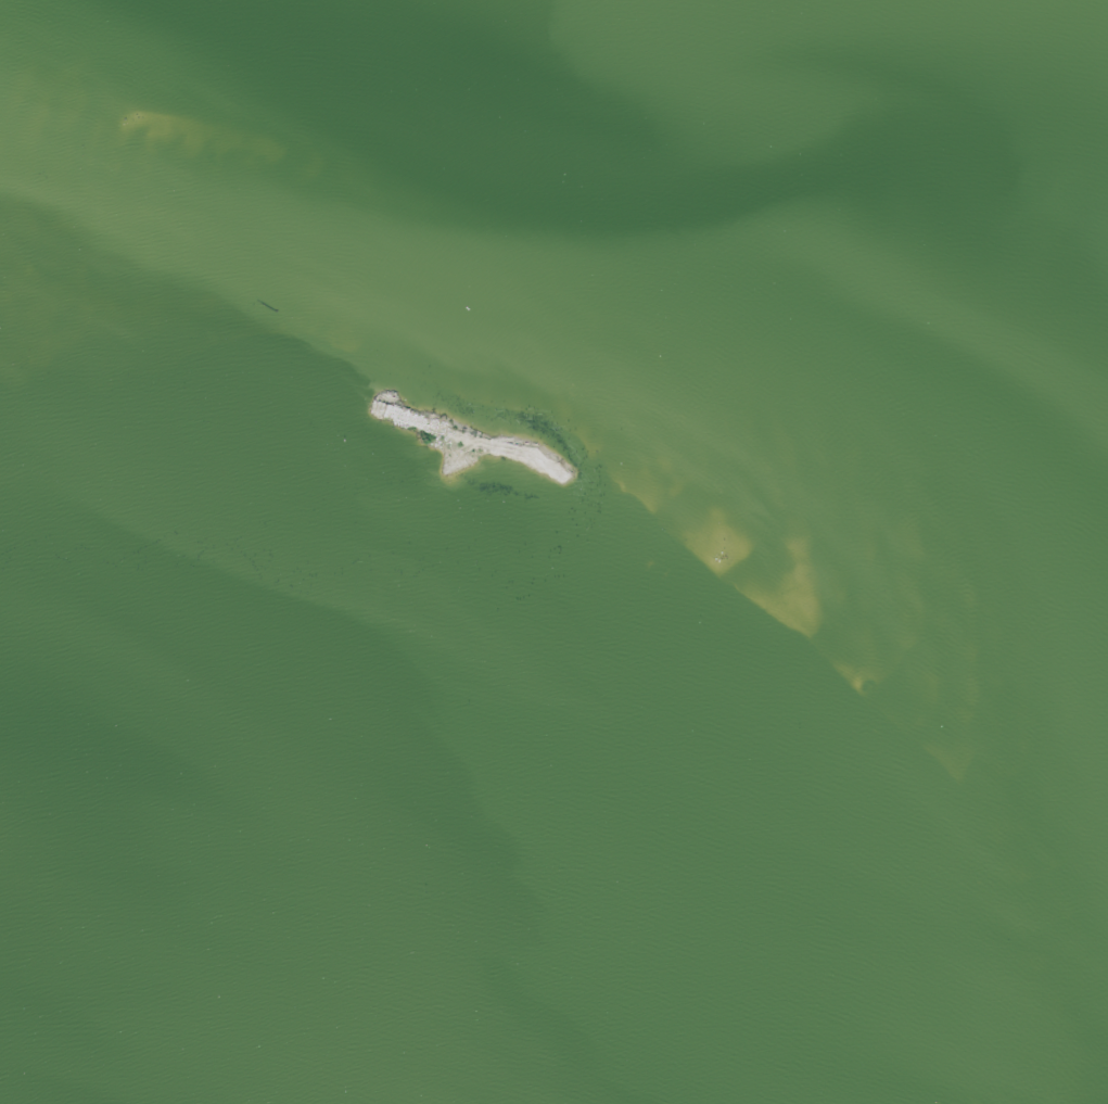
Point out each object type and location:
river: (122, 1026)

